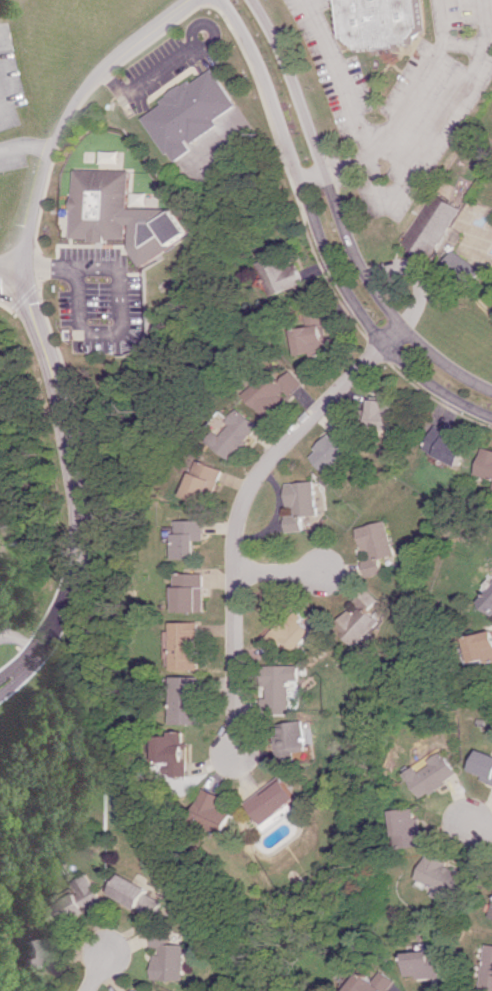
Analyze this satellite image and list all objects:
building: (383, 21)
road: (469, 45)
road: (425, 75)
road: (147, 79)
building: (196, 112)
road: (353, 115)
road: (440, 127)
road: (25, 144)
building: (126, 213)
road: (339, 218)
building: (432, 225)
road: (321, 236)
road: (15, 263)
building: (462, 267)
building: (284, 274)
road: (15, 283)
road: (129, 302)
road: (36, 304)
building: (313, 334)
building: (273, 389)
building: (386, 413)
building: (234, 434)
building: (334, 450)
building: (487, 463)
building: (206, 481)
building: (300, 503)
road: (241, 513)
building: (188, 537)
building: (377, 545)
road: (280, 572)
building: (192, 592)
building: (489, 604)
building: (358, 622)
building: (290, 633)
building: (186, 644)
building: (481, 647)
road: (15, 663)
road: (19, 677)
building: (280, 686)
building: (187, 699)
building: (294, 727)
building: (484, 764)
building: (436, 775)
building: (275, 802)
building: (215, 811)
road: (481, 823)
building: (411, 828)
building: (446, 877)
building: (133, 894)
building: (72, 899)
building: (35, 952)
building: (167, 959)
building: (427, 963)
road: (97, 967)
building: (488, 968)
building: (373, 982)
building: (132, 990)

